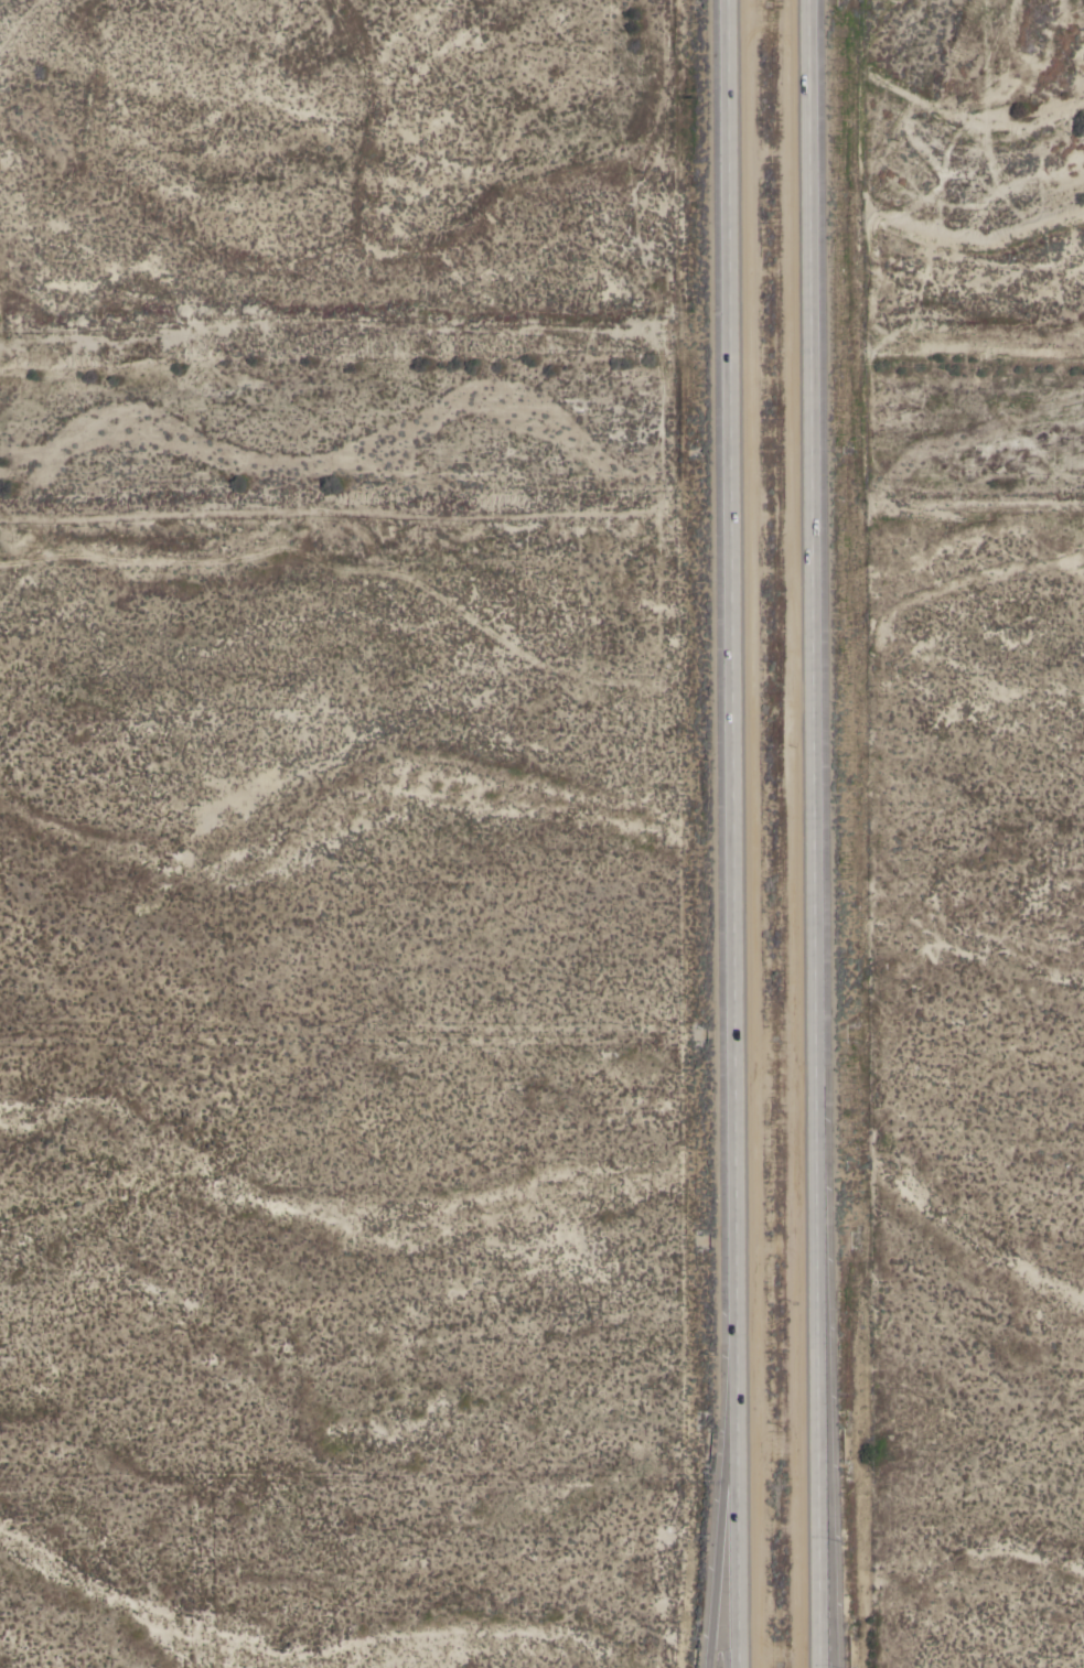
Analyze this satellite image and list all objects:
road: (818, 790)
road: (731, 833)
road: (721, 1479)
road: (825, 1624)
road: (827, 1624)

